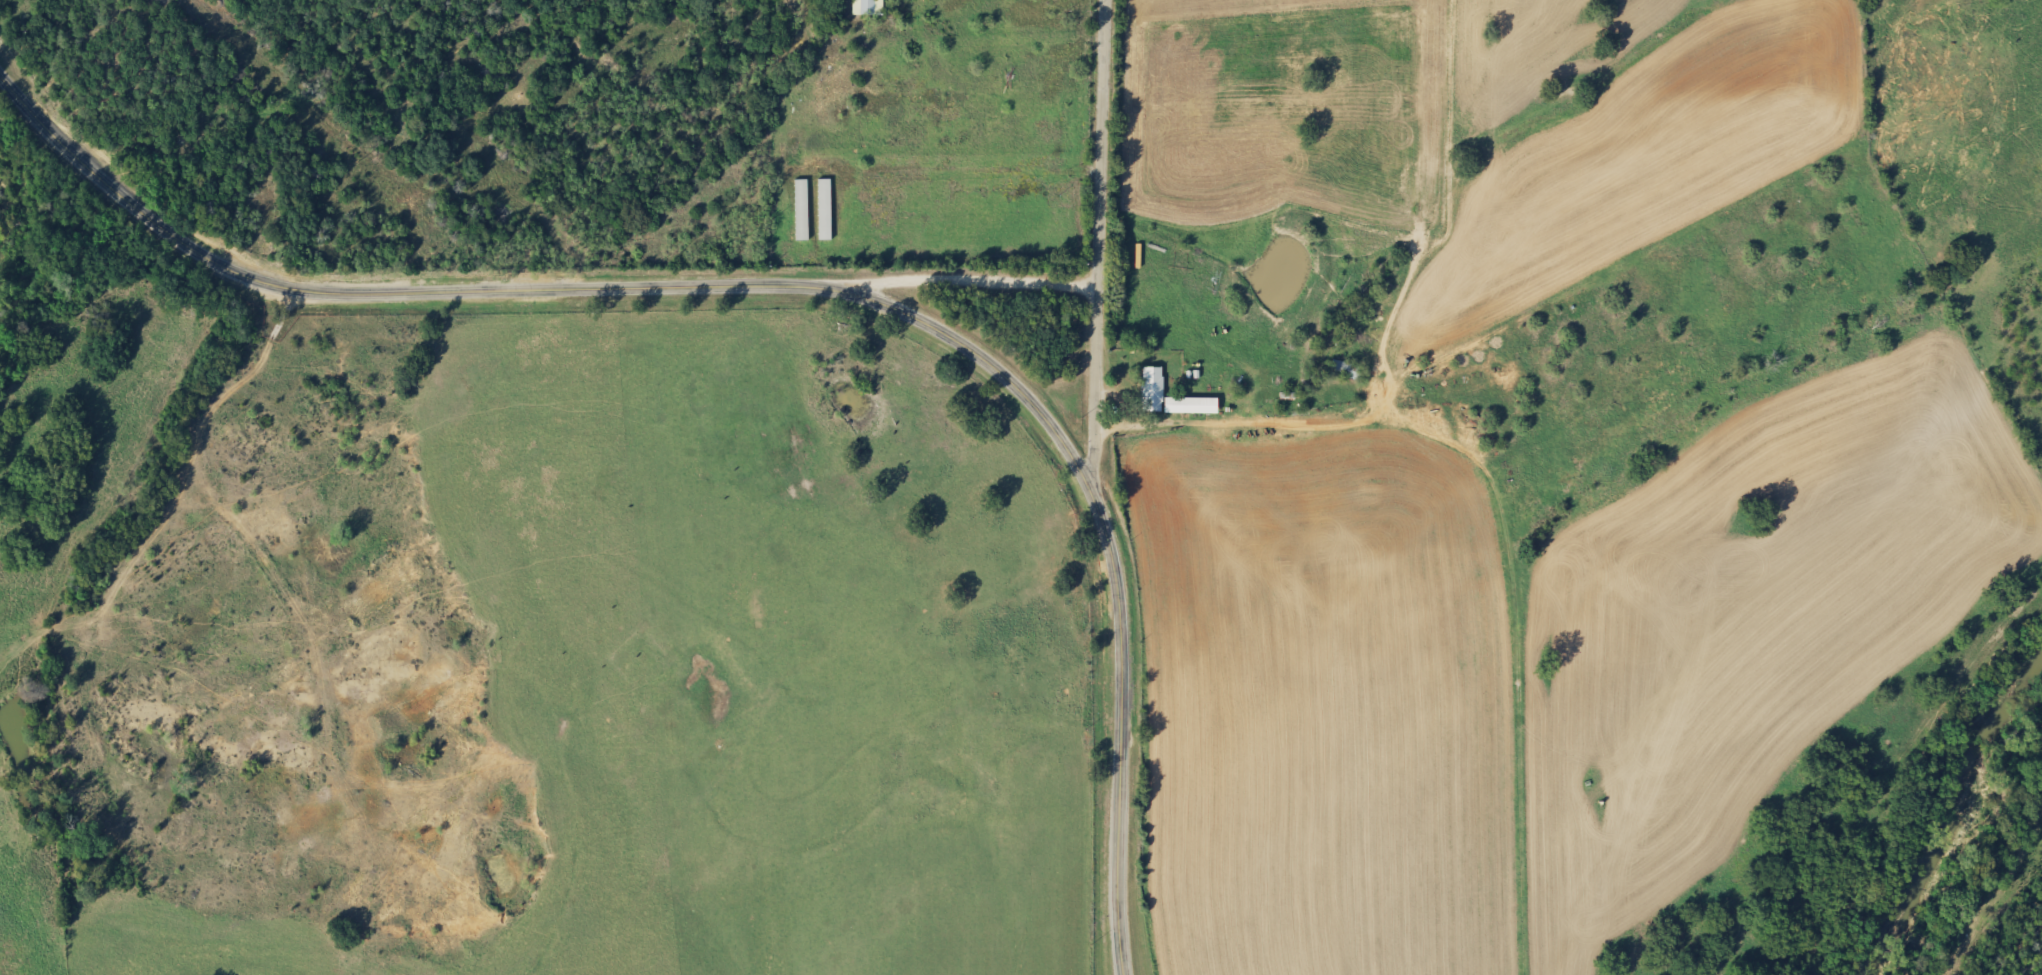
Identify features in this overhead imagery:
building: (864, 7)
building: (798, 209)
building: (822, 209)
road: (1100, 249)
road: (970, 277)
road: (792, 285)
building: (1339, 369)
building: (1148, 382)
road: (1237, 424)

